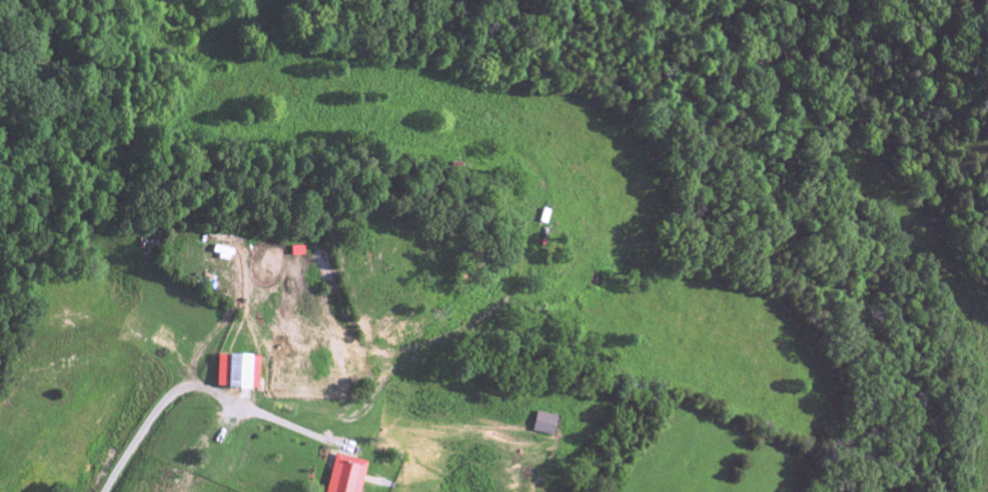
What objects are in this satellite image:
building: (163, 341)
building: (235, 374)
road: (210, 391)
building: (542, 426)
building: (343, 476)

